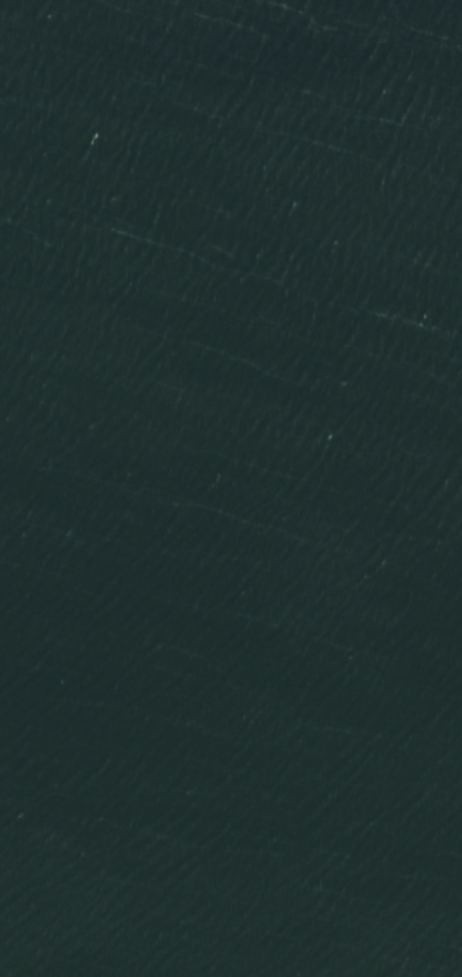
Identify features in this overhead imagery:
river: (281, 30)

